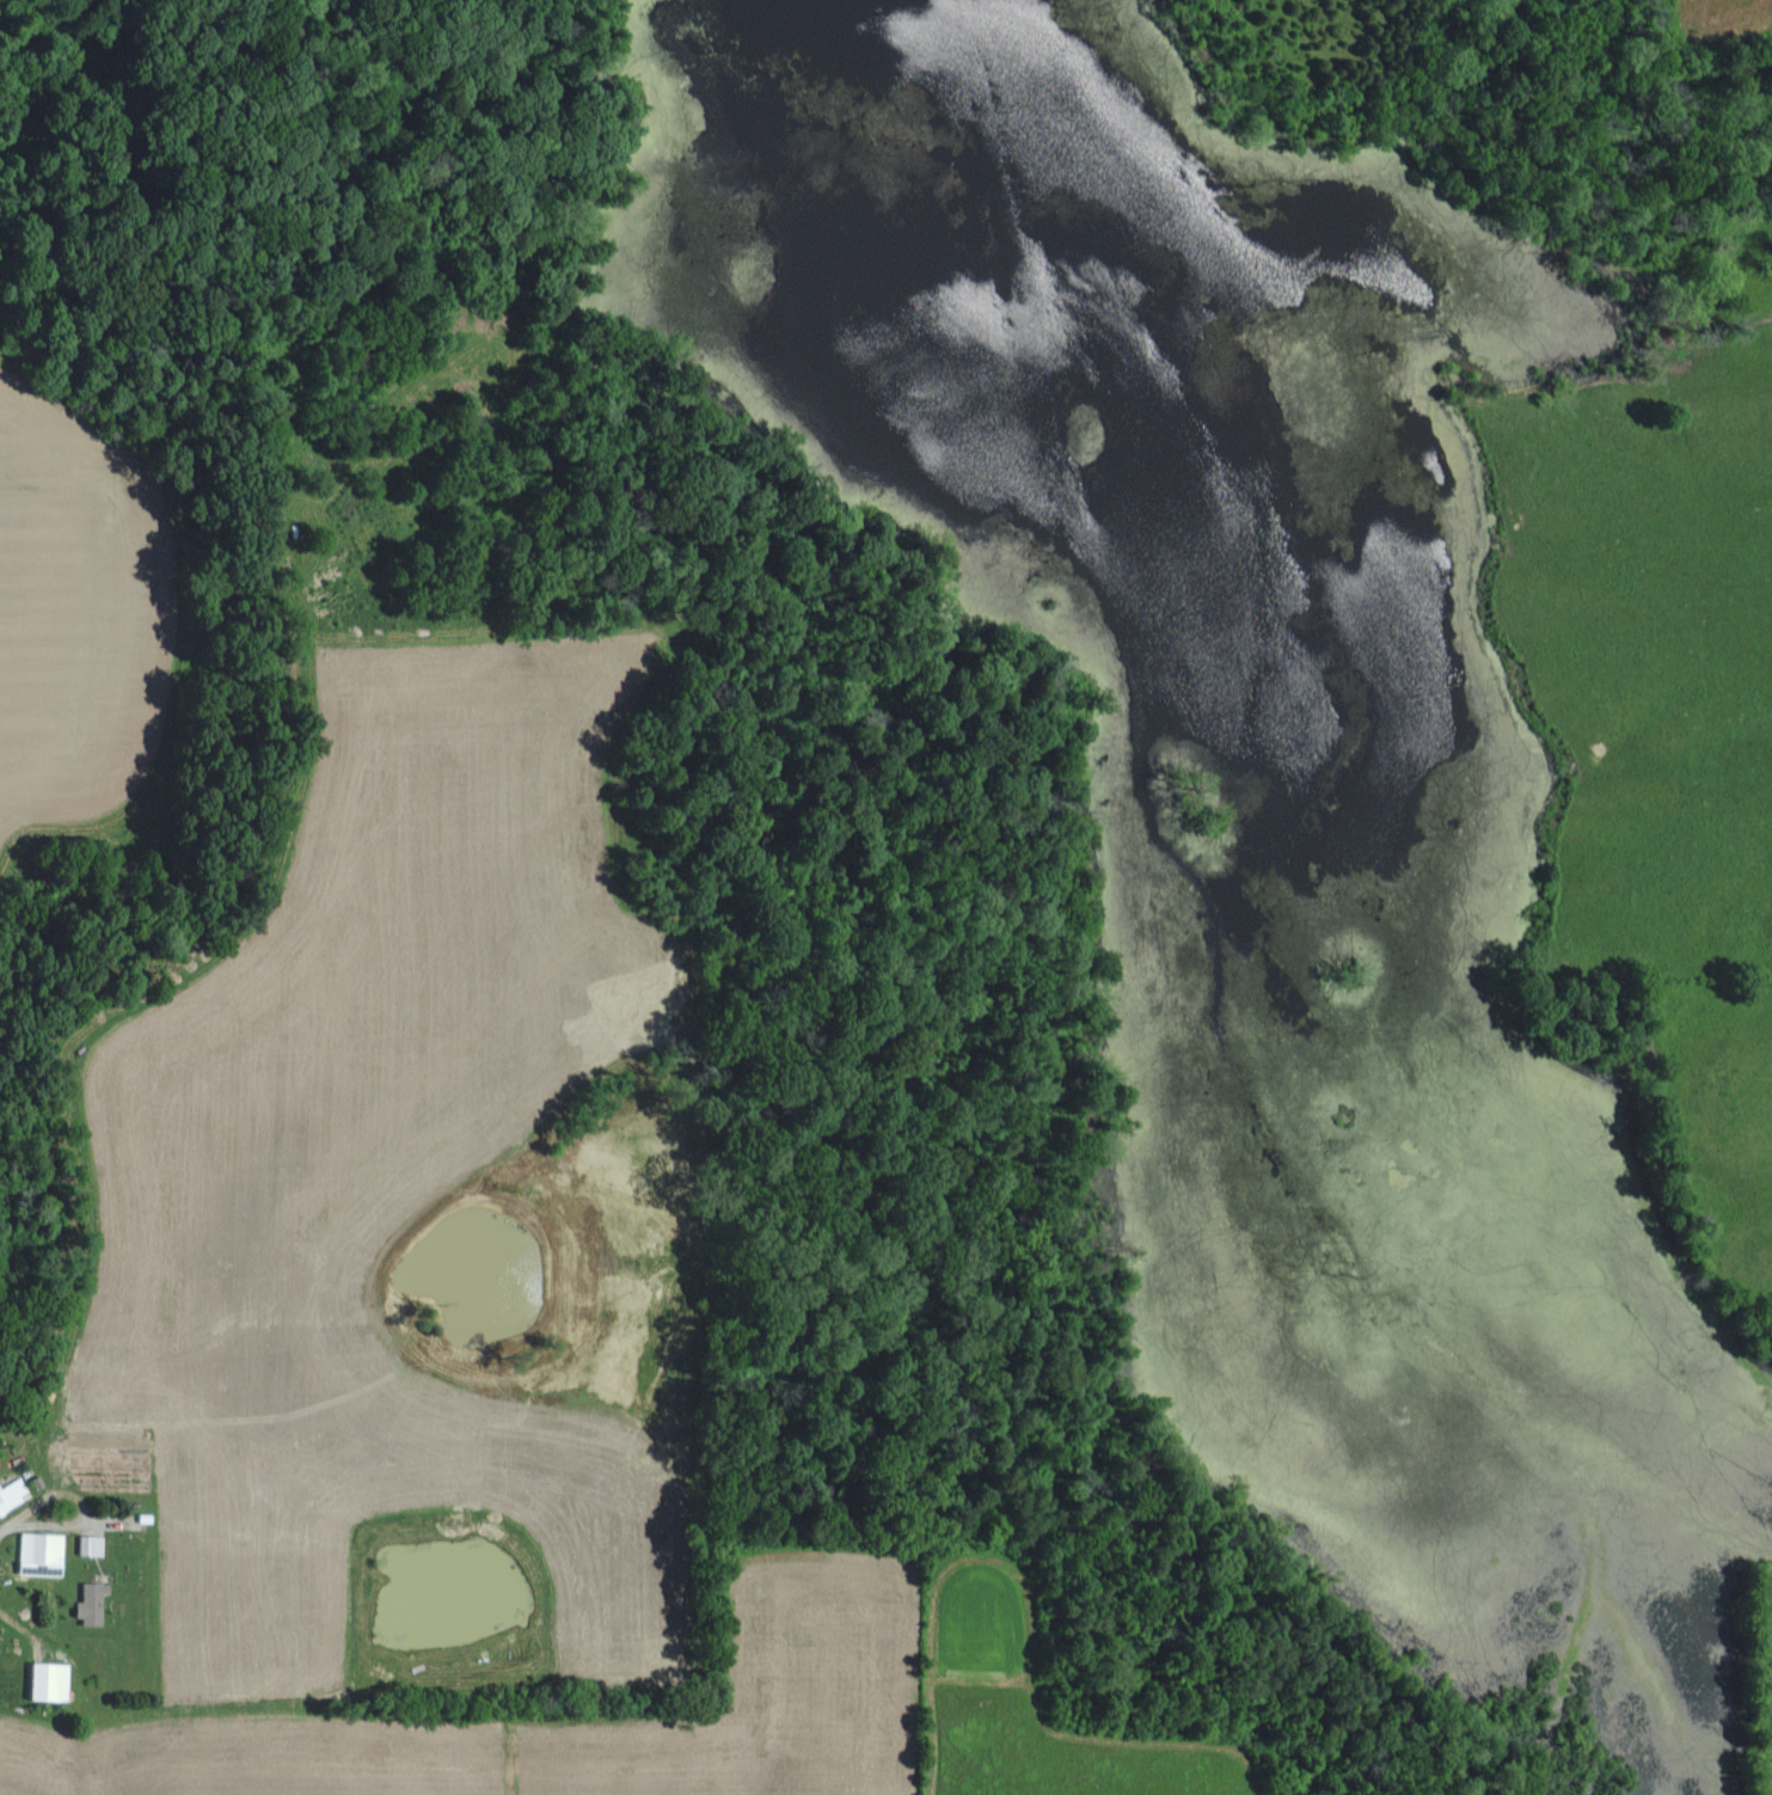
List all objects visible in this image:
building: (11, 1491)
building: (86, 1543)
building: (36, 1545)
building: (86, 1600)
building: (43, 1678)

